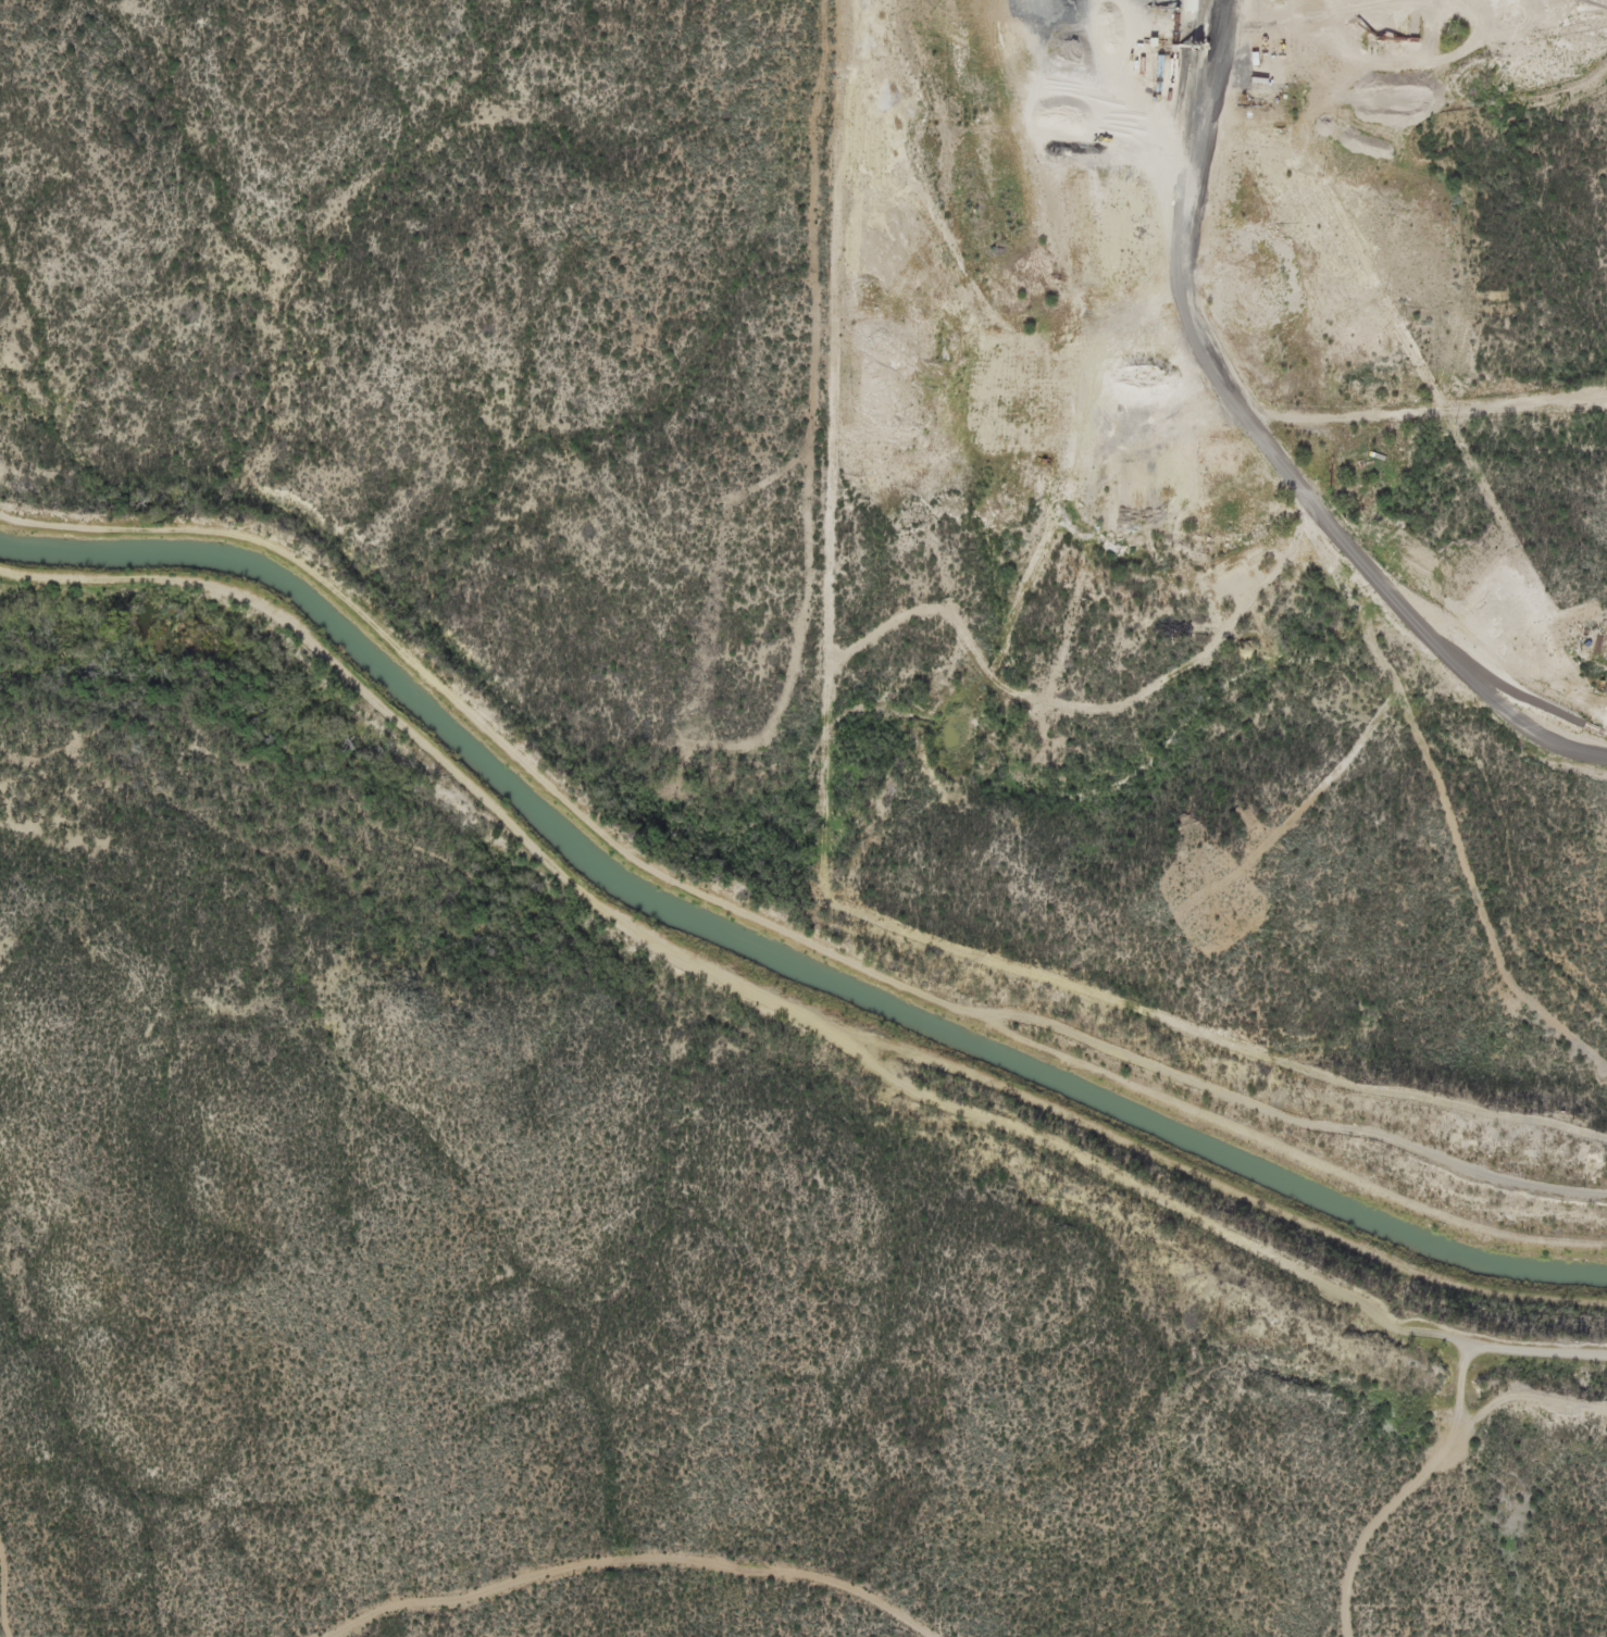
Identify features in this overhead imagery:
road: (1043, 689)
road: (645, 1564)

